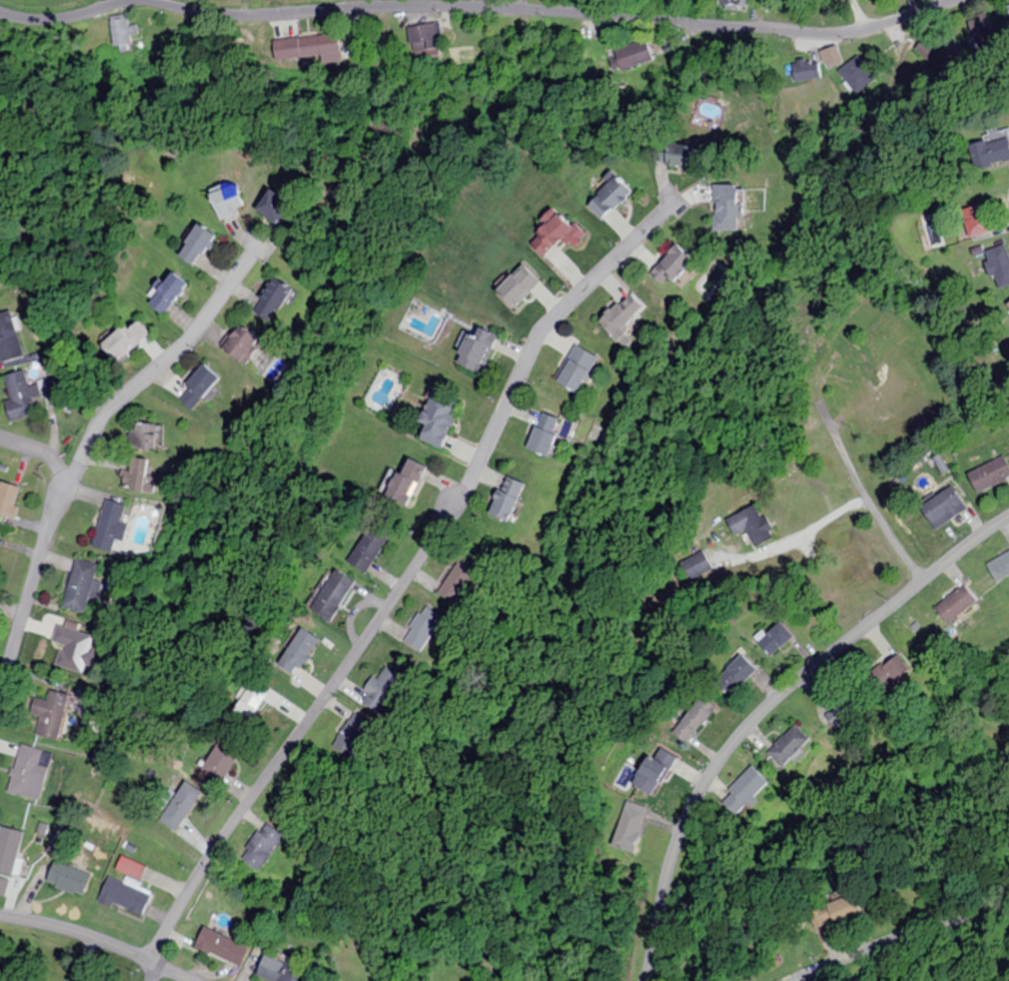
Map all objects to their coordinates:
building: (731, 4)
building: (1007, 8)
road: (479, 9)
building: (979, 31)
building: (123, 34)
building: (430, 36)
building: (313, 47)
building: (832, 55)
building: (805, 70)
building: (858, 74)
road: (20, 102)
building: (990, 151)
building: (673, 154)
building: (608, 196)
building: (228, 199)
building: (274, 205)
building: (727, 208)
building: (974, 220)
building: (556, 233)
building: (197, 244)
building: (999, 265)
building: (671, 266)
building: (518, 284)
building: (167, 292)
building: (272, 299)
building: (1007, 305)
building: (621, 316)
building: (9, 338)
building: (238, 342)
building: (119, 344)
building: (475, 348)
building: (859, 359)
building: (576, 368)
building: (198, 387)
building: (21, 393)
building: (437, 417)
building: (543, 434)
road: (44, 453)
road: (85, 454)
building: (136, 473)
building: (989, 475)
building: (405, 481)
road: (864, 495)
building: (9, 498)
building: (505, 499)
building: (943, 508)
building: (751, 524)
building: (111, 525)
building: (370, 546)
building: (999, 567)
road: (413, 576)
building: (460, 580)
building: (80, 585)
building: (955, 604)
building: (425, 629)
building: (776, 639)
building: (74, 648)
building: (298, 650)
building: (739, 671)
building: (891, 674)
building: (385, 690)
road: (767, 705)
building: (843, 711)
building: (694, 719)
building: (50, 721)
building: (359, 724)
building: (789, 745)
road: (1008, 746)
building: (220, 761)
building: (30, 772)
building: (652, 772)
building: (745, 789)
building: (174, 817)
building: (630, 826)
building: (9, 848)
building: (69, 877)
building: (4, 885)
building: (124, 895)
building: (847, 911)
road: (897, 937)
road: (101, 938)
building: (221, 946)
road: (150, 970)
building: (279, 970)

